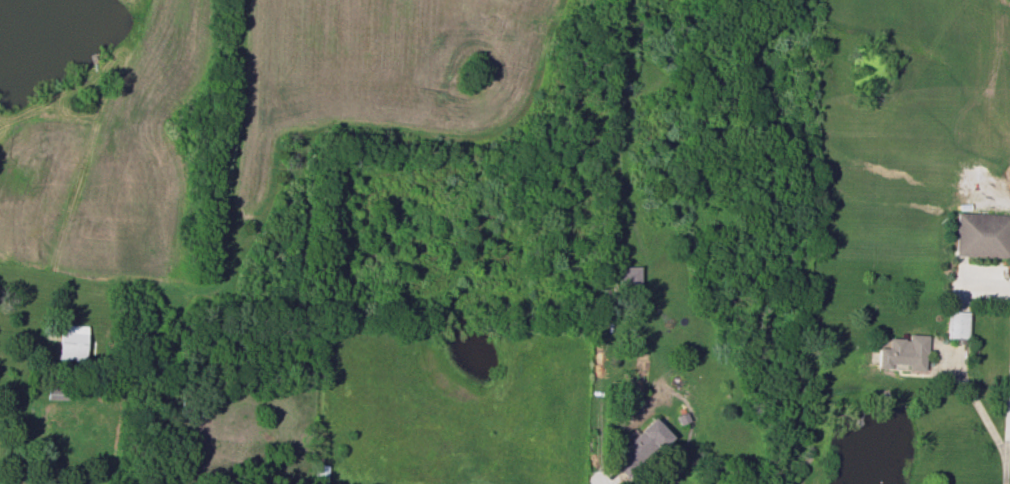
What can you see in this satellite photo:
crop: (387, 73)
crop: (107, 167)
building: (981, 234)
building: (628, 274)
building: (955, 323)
building: (71, 341)
building: (902, 352)
building: (54, 393)
road: (979, 411)
road: (1007, 424)
building: (639, 447)

